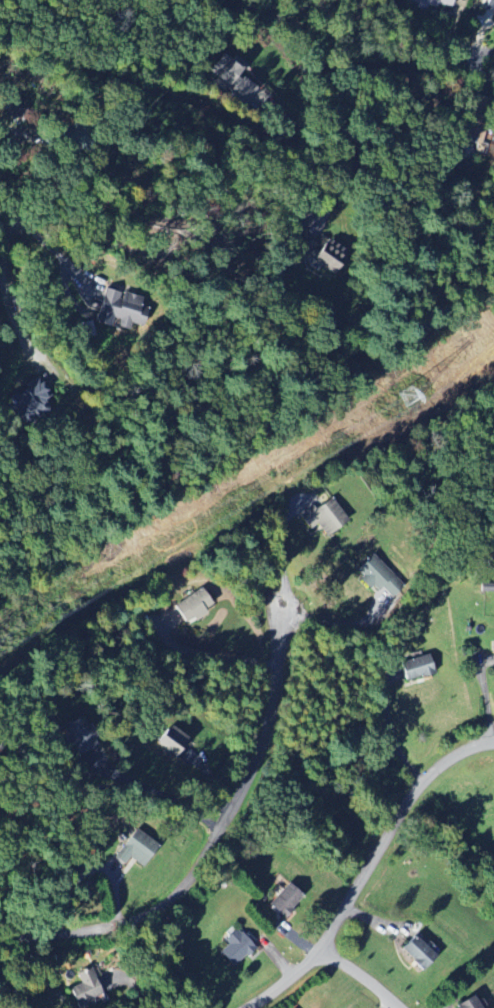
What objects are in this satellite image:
building: (430, 3)
road: (397, 49)
building: (232, 79)
road: (343, 143)
road: (44, 242)
building: (321, 251)
road: (5, 295)
building: (118, 308)
power tower: (408, 399)
building: (30, 400)
building: (322, 516)
road: (278, 550)
building: (376, 574)
building: (191, 606)
road: (341, 625)
road: (210, 655)
building: (414, 668)
building: (77, 735)
building: (169, 740)
road: (154, 791)
road: (211, 843)
building: (134, 849)
road: (363, 862)
building: (284, 901)
building: (234, 947)
building: (416, 953)
road: (354, 975)
building: (85, 989)
building: (467, 1003)

